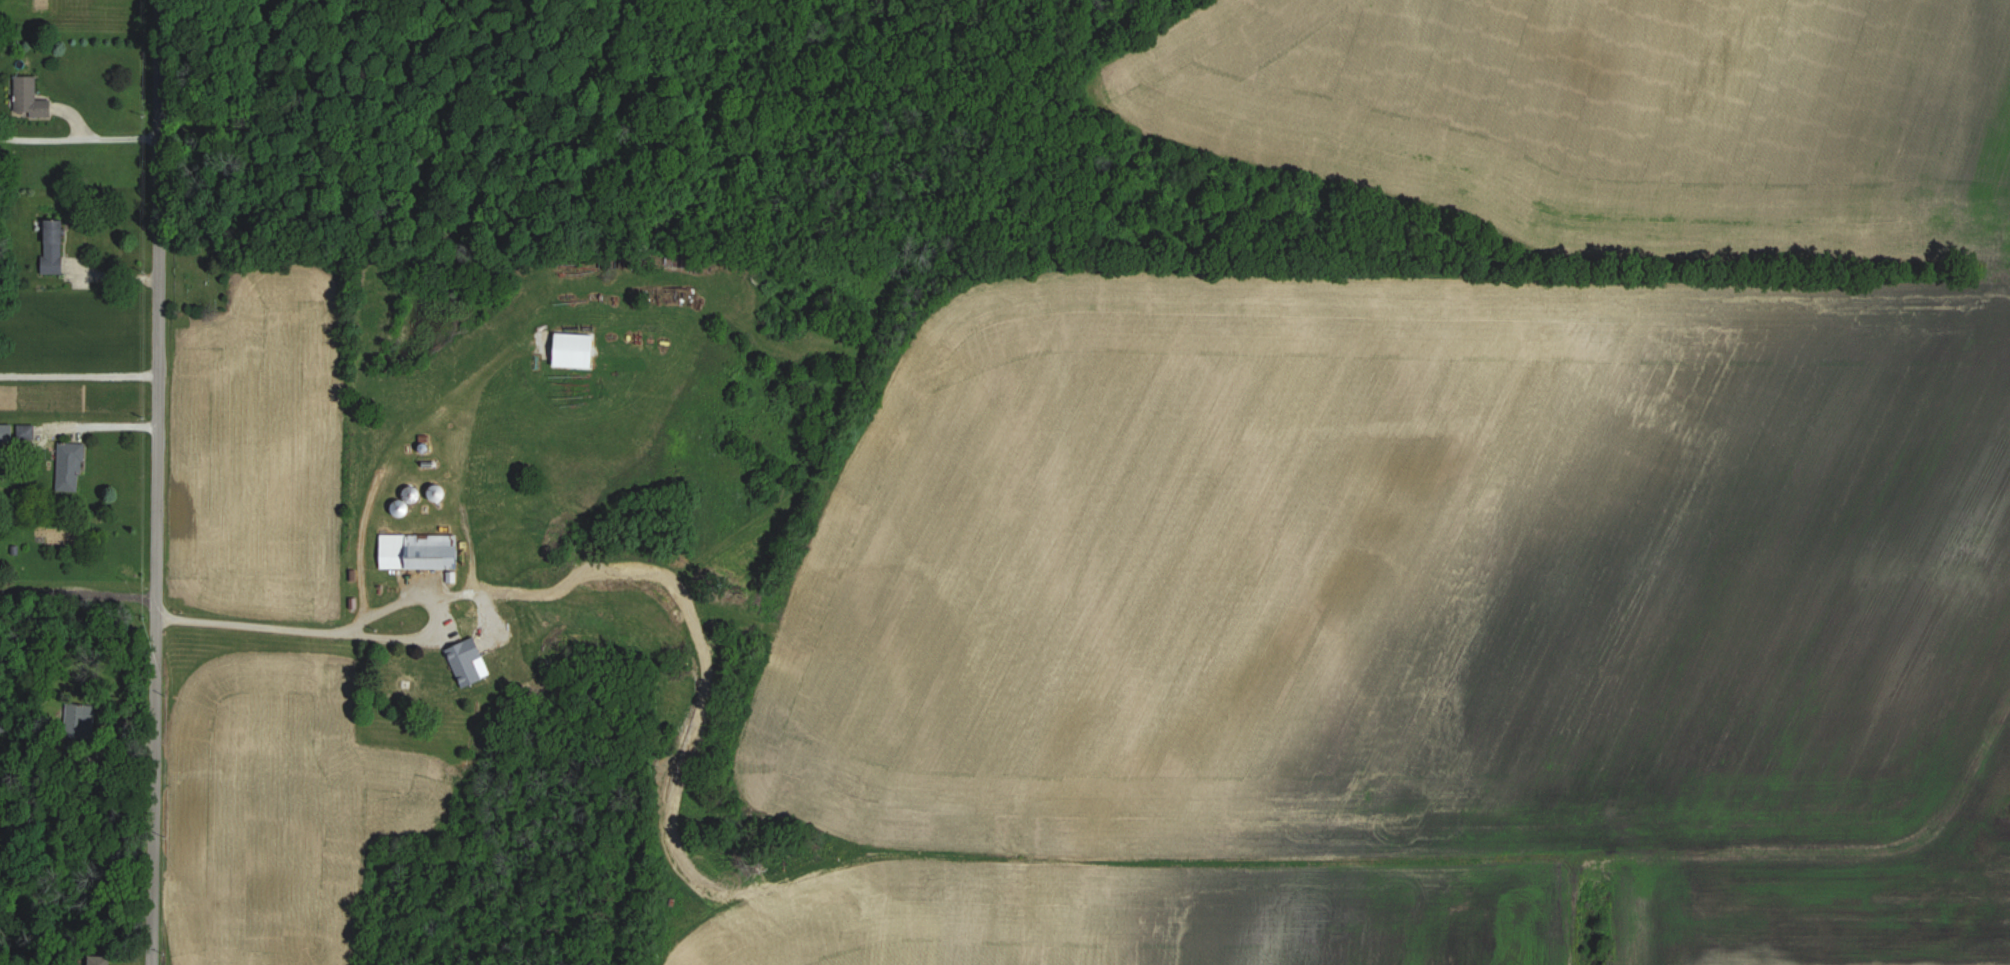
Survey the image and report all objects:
building: (32, 97)
road: (77, 119)
building: (56, 246)
building: (578, 350)
road: (78, 376)
road: (94, 427)
building: (27, 432)
building: (7, 433)
building: (71, 467)
road: (157, 482)
building: (443, 494)
building: (405, 507)
building: (424, 551)
road: (78, 591)
road: (363, 636)
building: (473, 662)
building: (82, 715)
building: (2, 722)
building: (101, 960)

